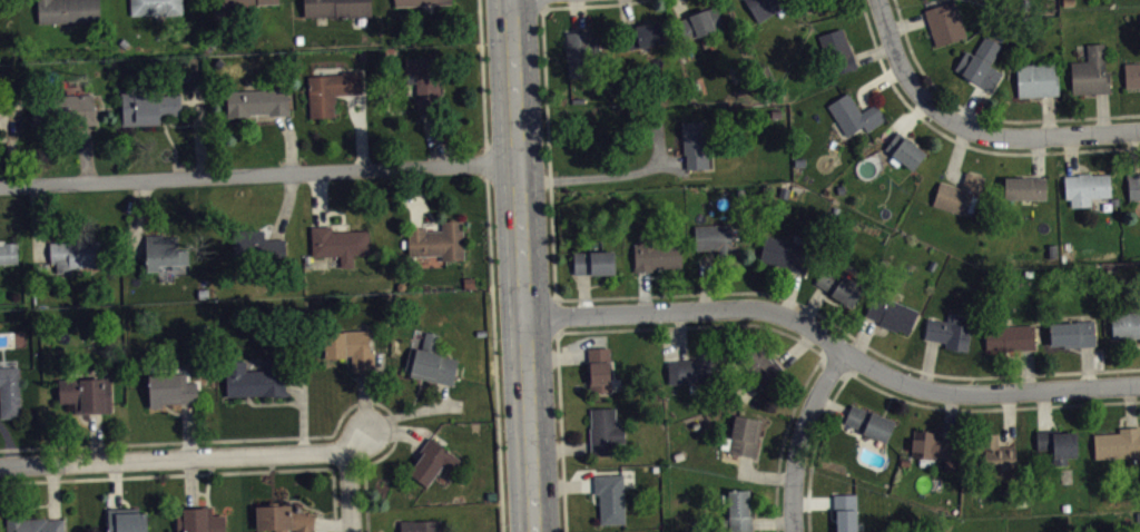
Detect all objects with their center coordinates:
building: (243, 1)
building: (419, 2)
road: (542, 4)
building: (156, 7)
building: (336, 8)
building: (768, 8)
building: (68, 10)
building: (699, 22)
building: (944, 22)
building: (640, 36)
building: (580, 51)
building: (837, 51)
building: (980, 62)
building: (1090, 71)
building: (1131, 75)
building: (1036, 79)
road: (482, 81)
building: (424, 82)
building: (331, 90)
building: (257, 101)
road: (547, 105)
building: (147, 106)
building: (63, 112)
building: (854, 115)
road: (984, 117)
road: (972, 128)
road: (961, 141)
building: (697, 142)
building: (903, 151)
road: (258, 173)
building: (1133, 186)
building: (1084, 187)
building: (1025, 188)
building: (960, 194)
building: (438, 240)
building: (716, 240)
building: (340, 243)
building: (257, 244)
building: (165, 250)
building: (8, 252)
building: (786, 252)
building: (78, 254)
building: (656, 254)
building: (593, 262)
road: (522, 265)
building: (839, 286)
building: (890, 313)
road: (554, 315)
building: (1126, 325)
road: (692, 326)
building: (949, 331)
road: (847, 333)
building: (1072, 333)
building: (1010, 337)
road: (834, 343)
building: (350, 347)
road: (493, 347)
building: (431, 362)
road: (837, 363)
building: (760, 364)
building: (598, 368)
building: (696, 368)
building: (255, 378)
building: (171, 388)
building: (10, 392)
building: (86, 393)
road: (794, 407)
road: (991, 408)
building: (868, 422)
road: (560, 432)
building: (605, 432)
building: (743, 435)
road: (802, 435)
road: (274, 436)
building: (1118, 443)
building: (1057, 444)
road: (814, 447)
building: (933, 449)
building: (994, 453)
road: (174, 456)
building: (432, 461)
road: (197, 473)
road: (350, 490)
building: (610, 496)
road: (776, 499)
building: (739, 511)
building: (845, 512)
building: (284, 518)
building: (126, 520)
building: (198, 520)
building: (32, 524)
building: (420, 525)

